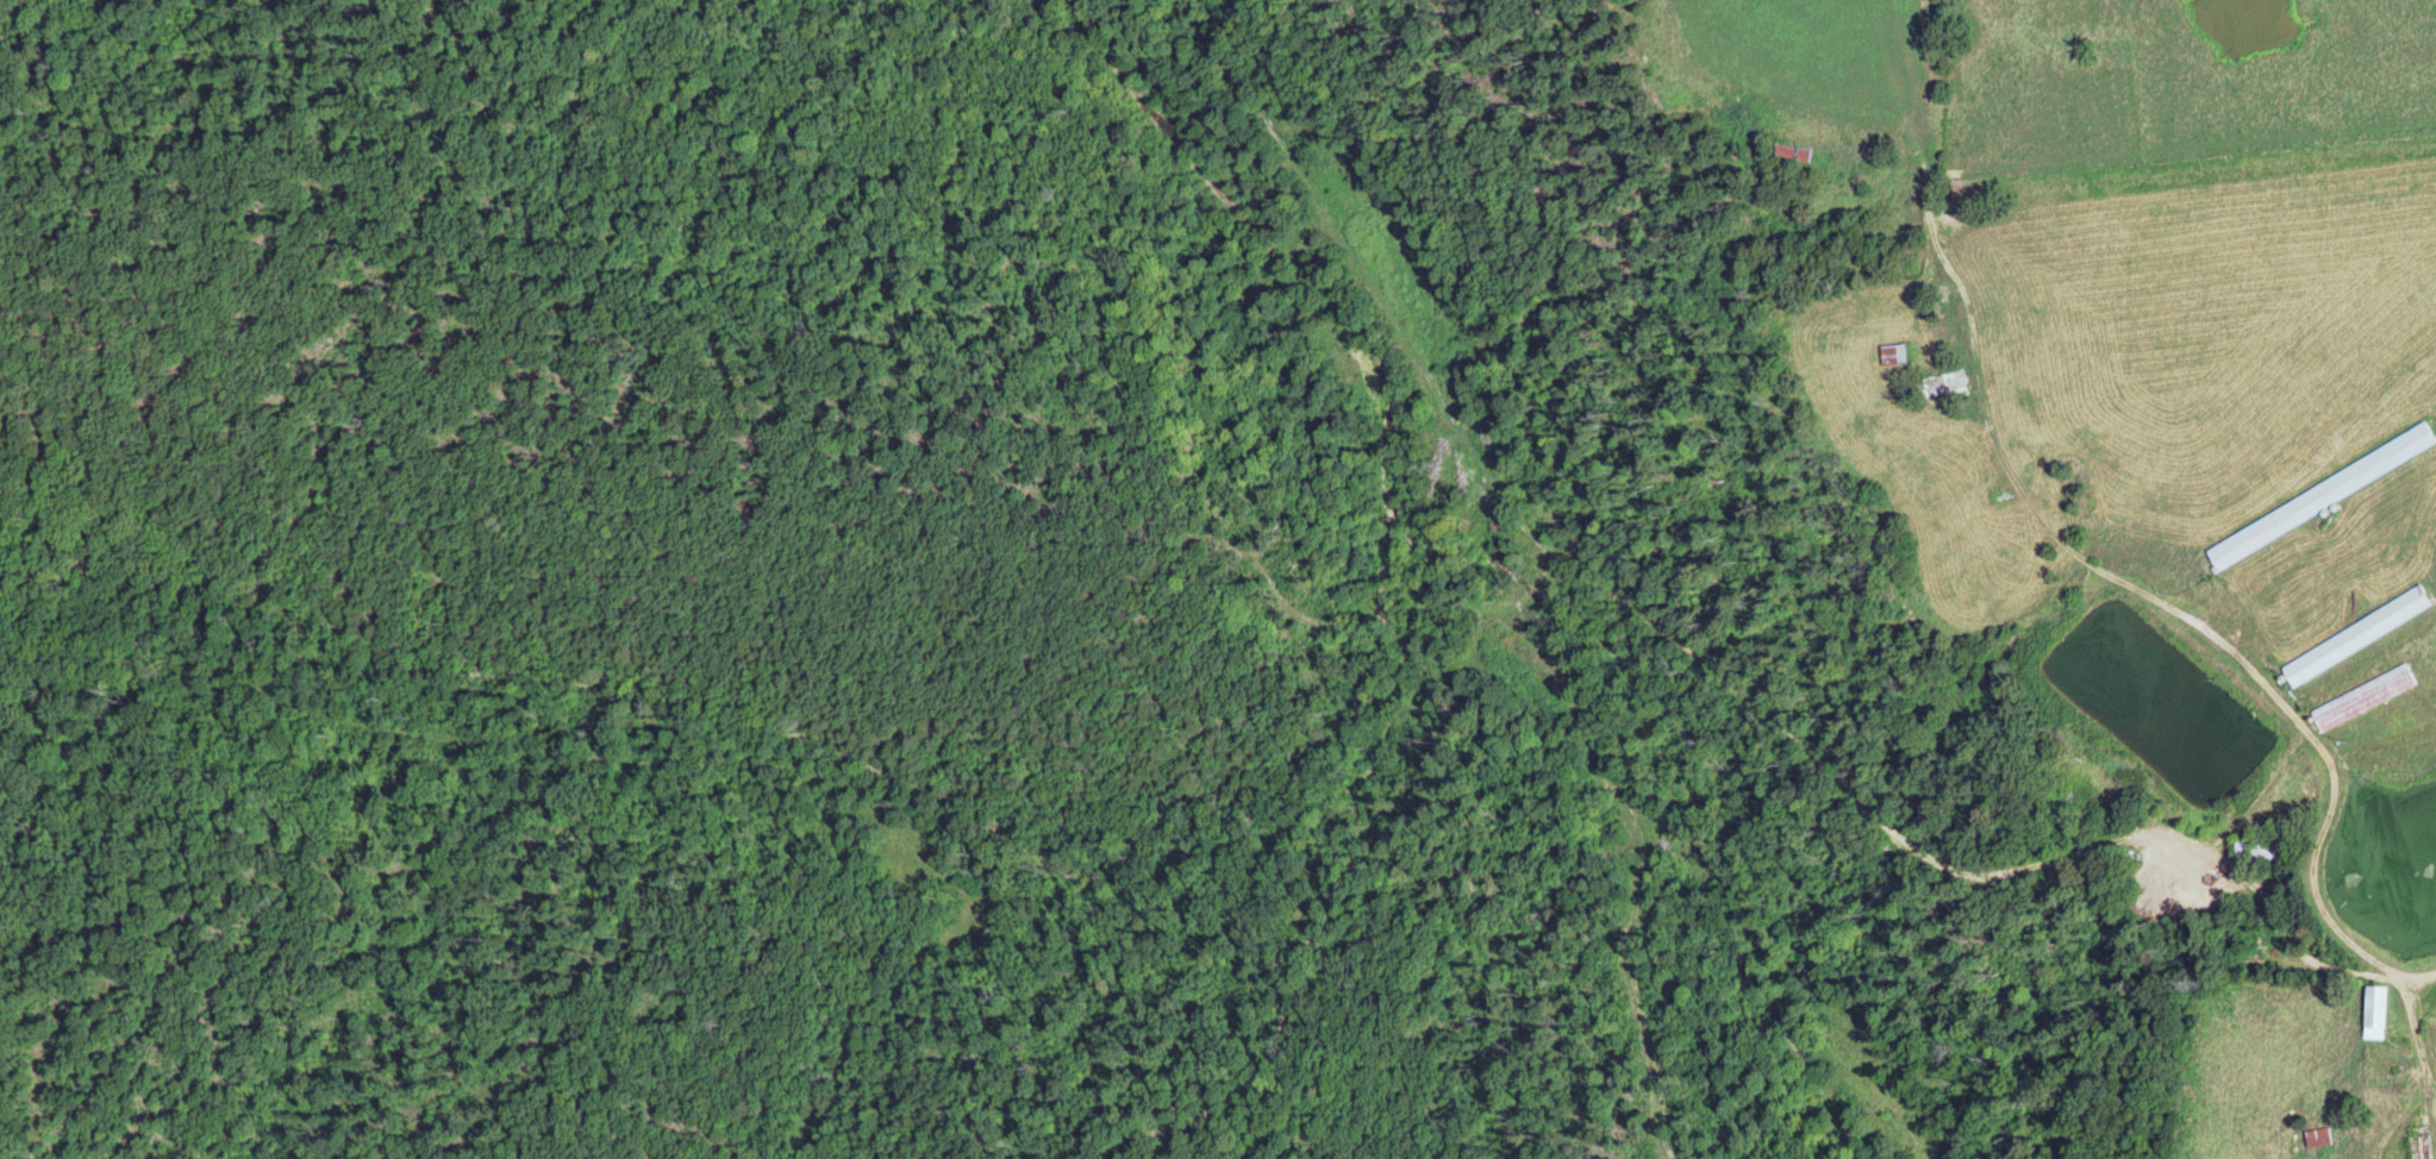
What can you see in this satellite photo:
building: (1787, 151)
building: (1887, 356)
building: (1928, 390)
building: (2353, 637)
building: (2360, 698)
road: (2322, 831)
building: (2257, 847)
road: (2422, 978)
building: (2371, 1013)
building: (2312, 1138)
building: (2417, 1145)

